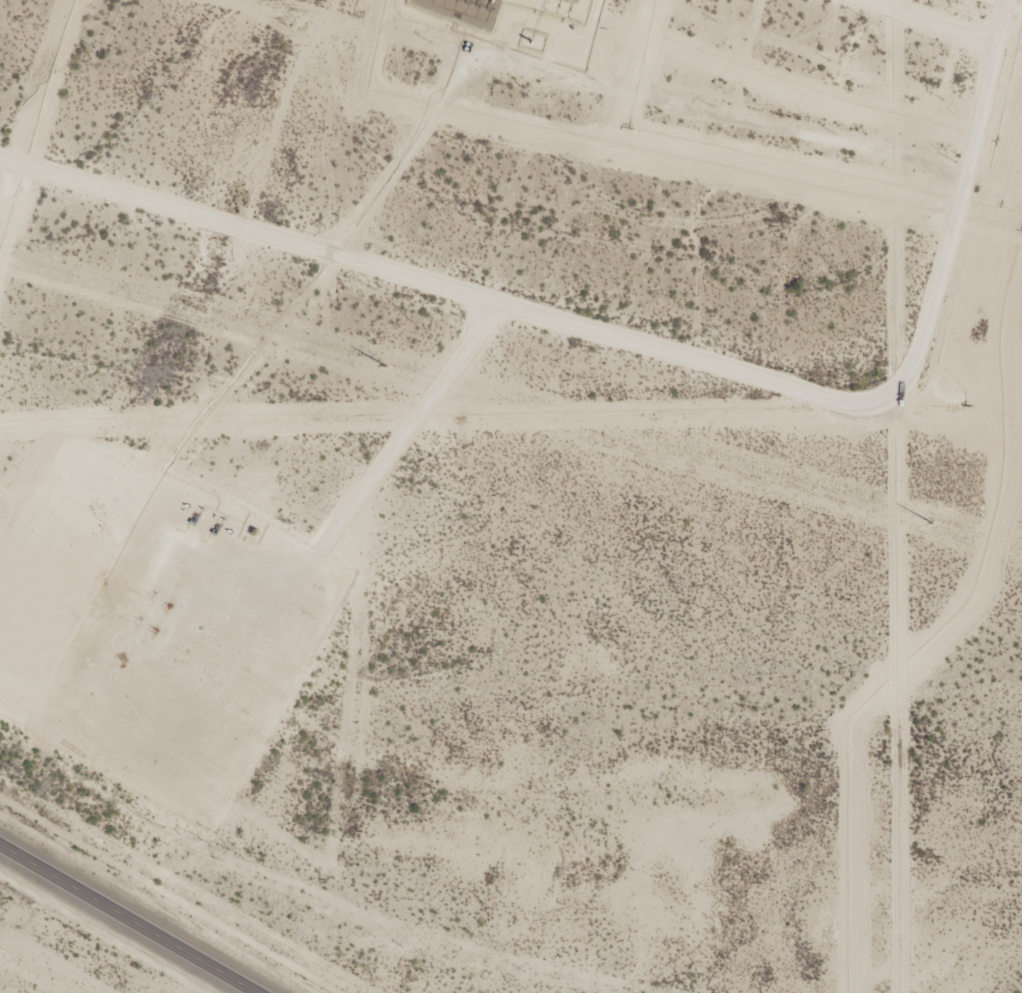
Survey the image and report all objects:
road: (643, 342)
road: (129, 918)

